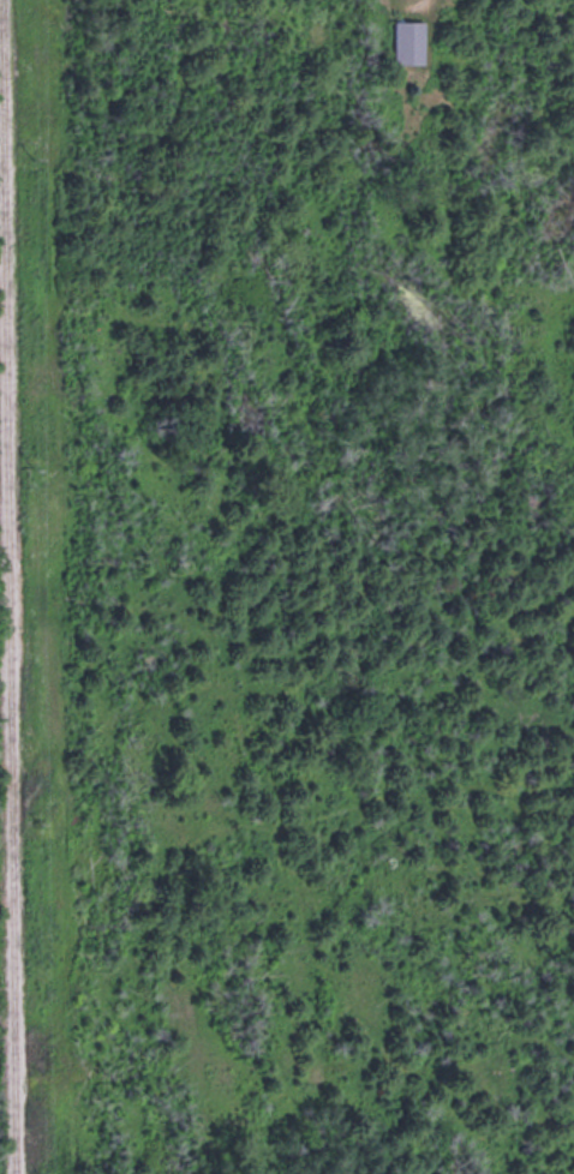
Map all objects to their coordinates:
building: (407, 38)
railway: (6, 587)

